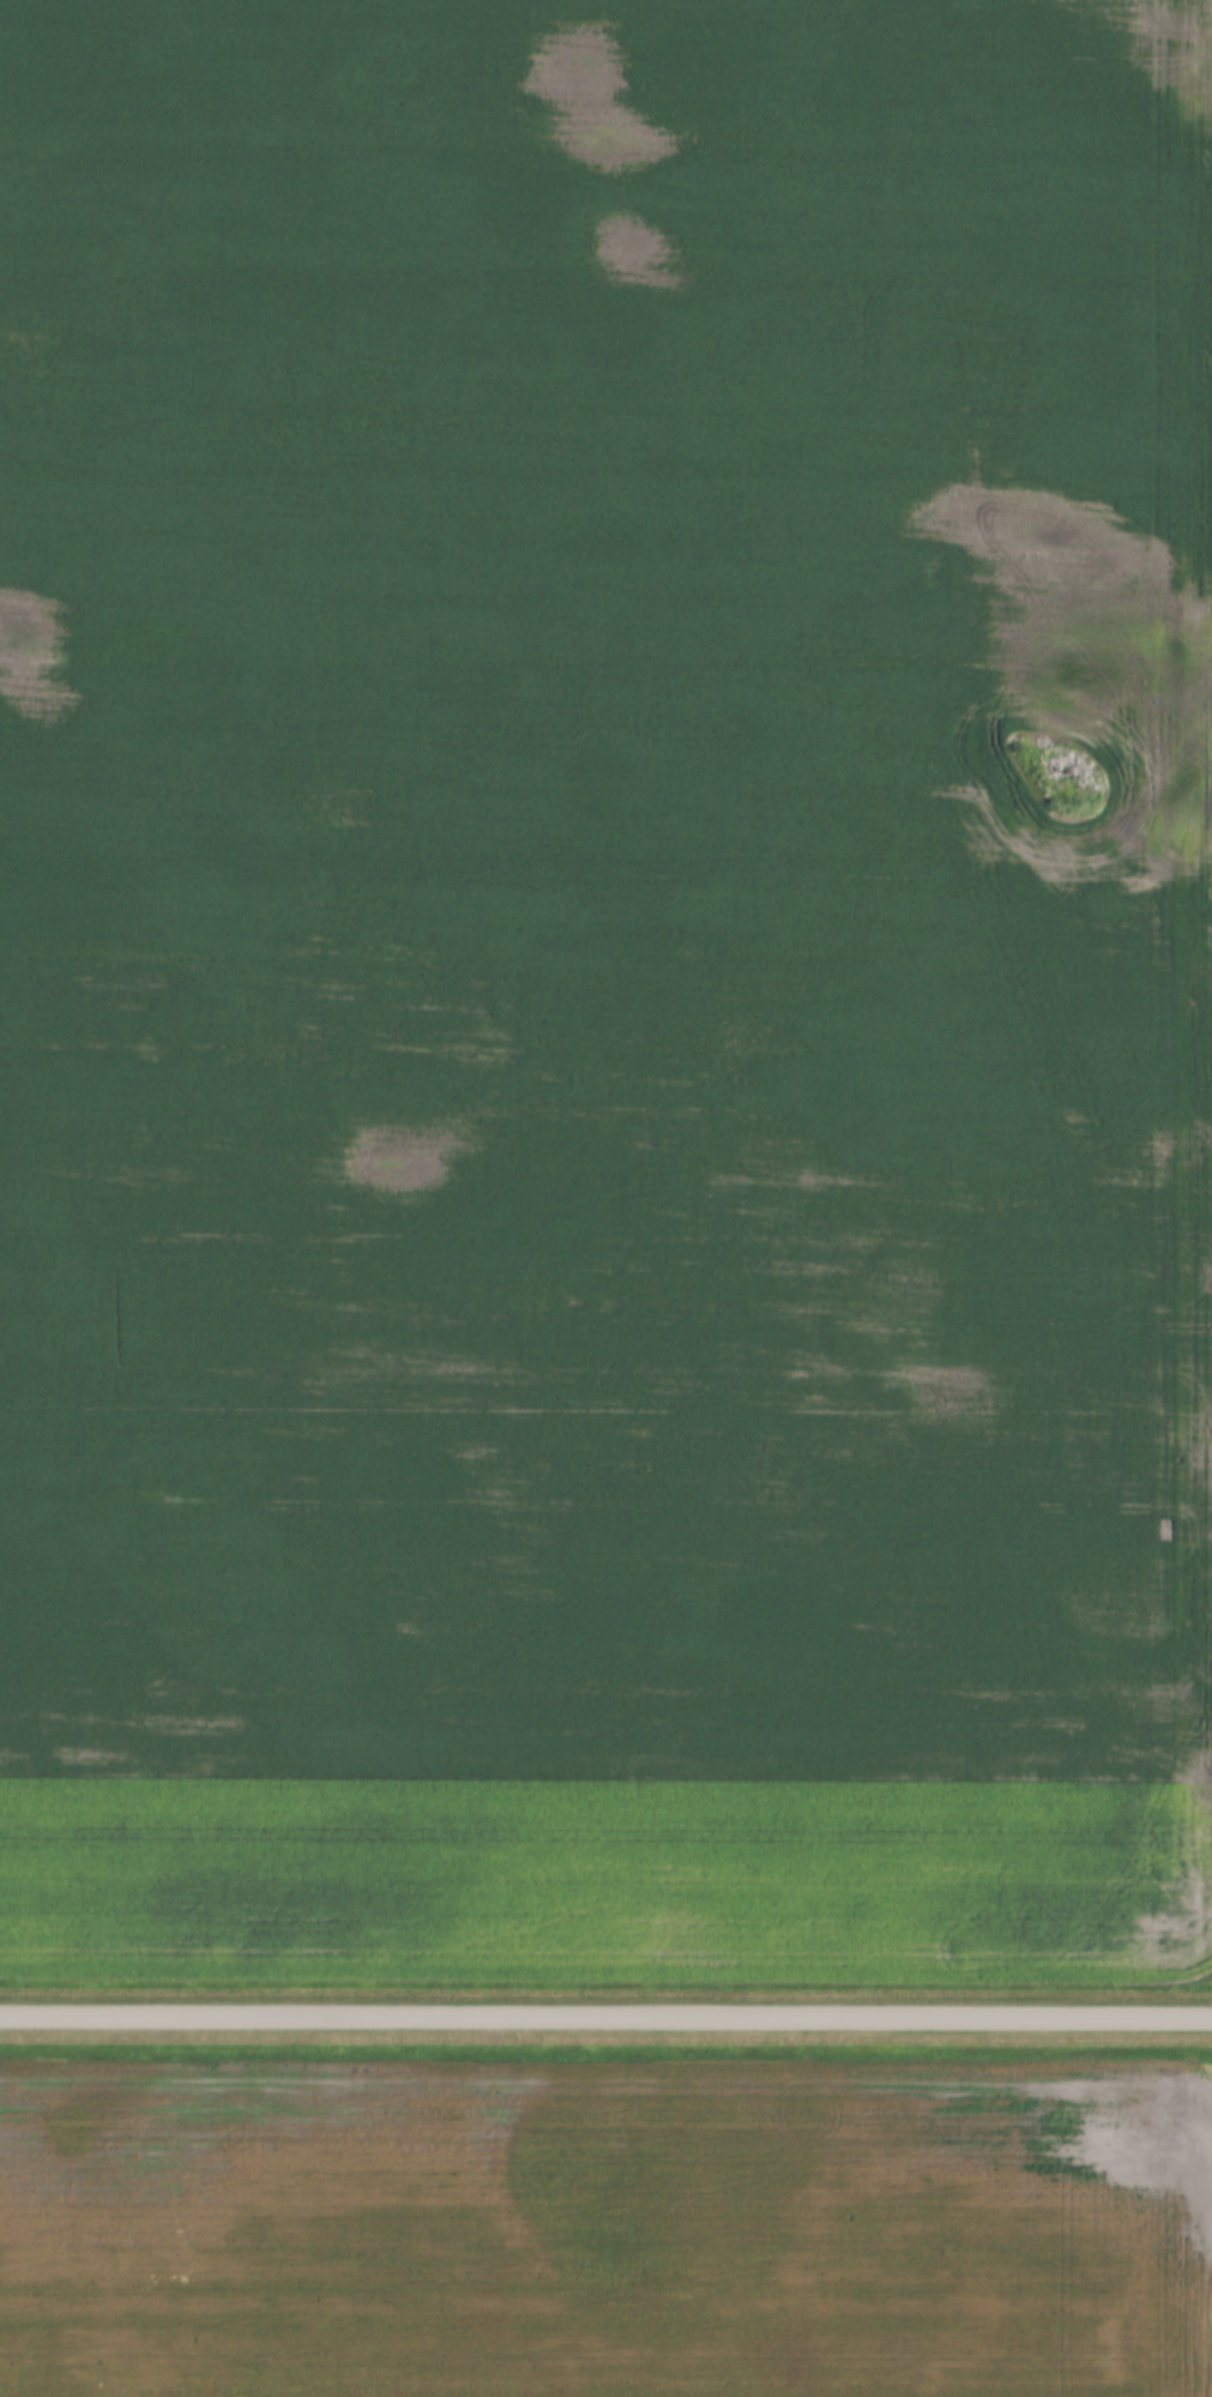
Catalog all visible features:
road: (605, 2012)

